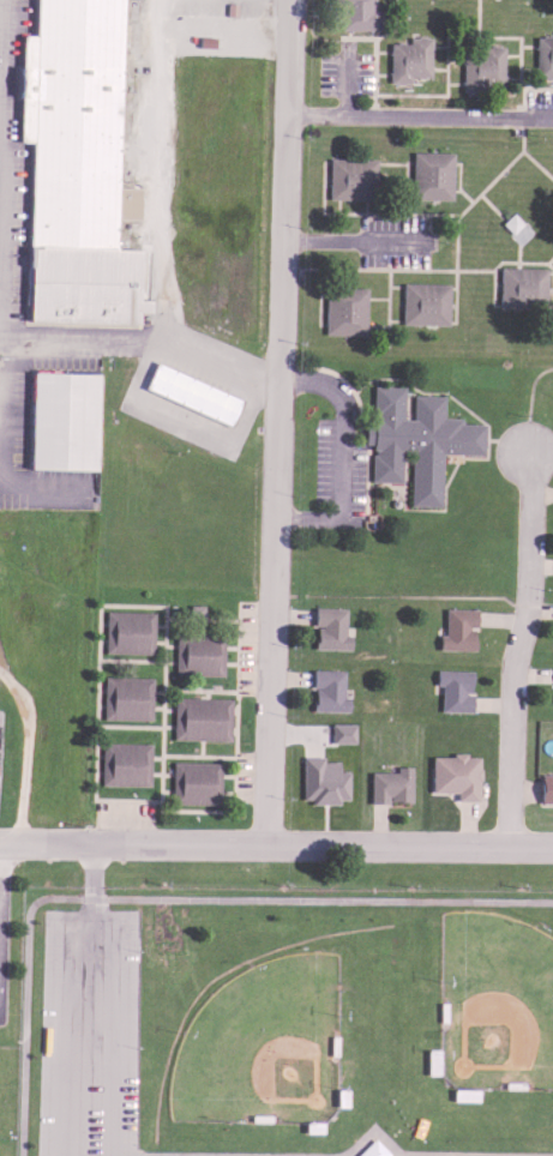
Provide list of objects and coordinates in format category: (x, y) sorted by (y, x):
building: (355, 13)
road: (1, 28)
building: (543, 54)
building: (408, 56)
road: (287, 58)
building: (482, 66)
road: (1, 91)
road: (419, 116)
building: (74, 124)
road: (1, 140)
road: (1, 163)
road: (156, 169)
building: (429, 173)
building: (350, 176)
road: (0, 207)
road: (350, 243)
building: (519, 284)
building: (80, 285)
building: (423, 301)
building: (344, 308)
road: (140, 339)
building: (193, 395)
building: (62, 421)
building: (414, 439)
road: (342, 456)
road: (274, 481)
road: (42, 482)
road: (200, 620)
building: (329, 625)
building: (456, 626)
building: (128, 633)
road: (515, 651)
building: (198, 656)
road: (133, 662)
building: (453, 686)
building: (326, 687)
road: (198, 690)
building: (126, 699)
road: (161, 717)
building: (200, 720)
building: (341, 729)
road: (25, 751)
road: (191, 757)
building: (124, 765)
building: (453, 772)
building: (321, 777)
building: (389, 782)
building: (194, 784)
building: (545, 784)
road: (276, 848)
road: (91, 880)
road: (168, 901)
park: (499, 1003)
building: (282, 1012)
road: (53, 1017)
road: (103, 1029)
park: (266, 1046)

